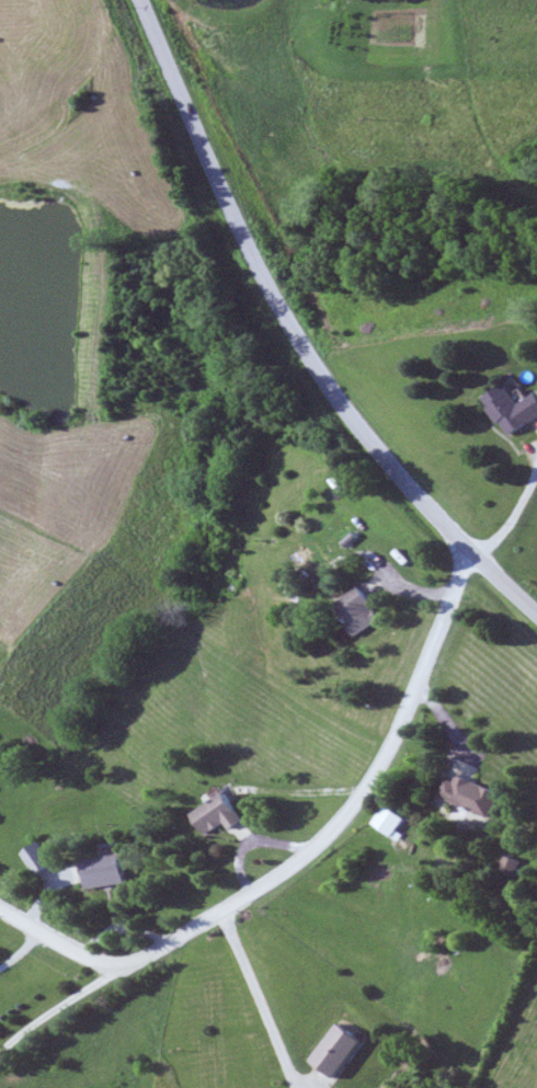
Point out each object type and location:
road: (298, 328)
building: (515, 412)
road: (512, 518)
building: (366, 612)
building: (471, 797)
road: (353, 806)
building: (225, 815)
building: (44, 860)
building: (512, 866)
building: (110, 873)
road: (58, 939)
road: (260, 998)
road: (57, 1006)

